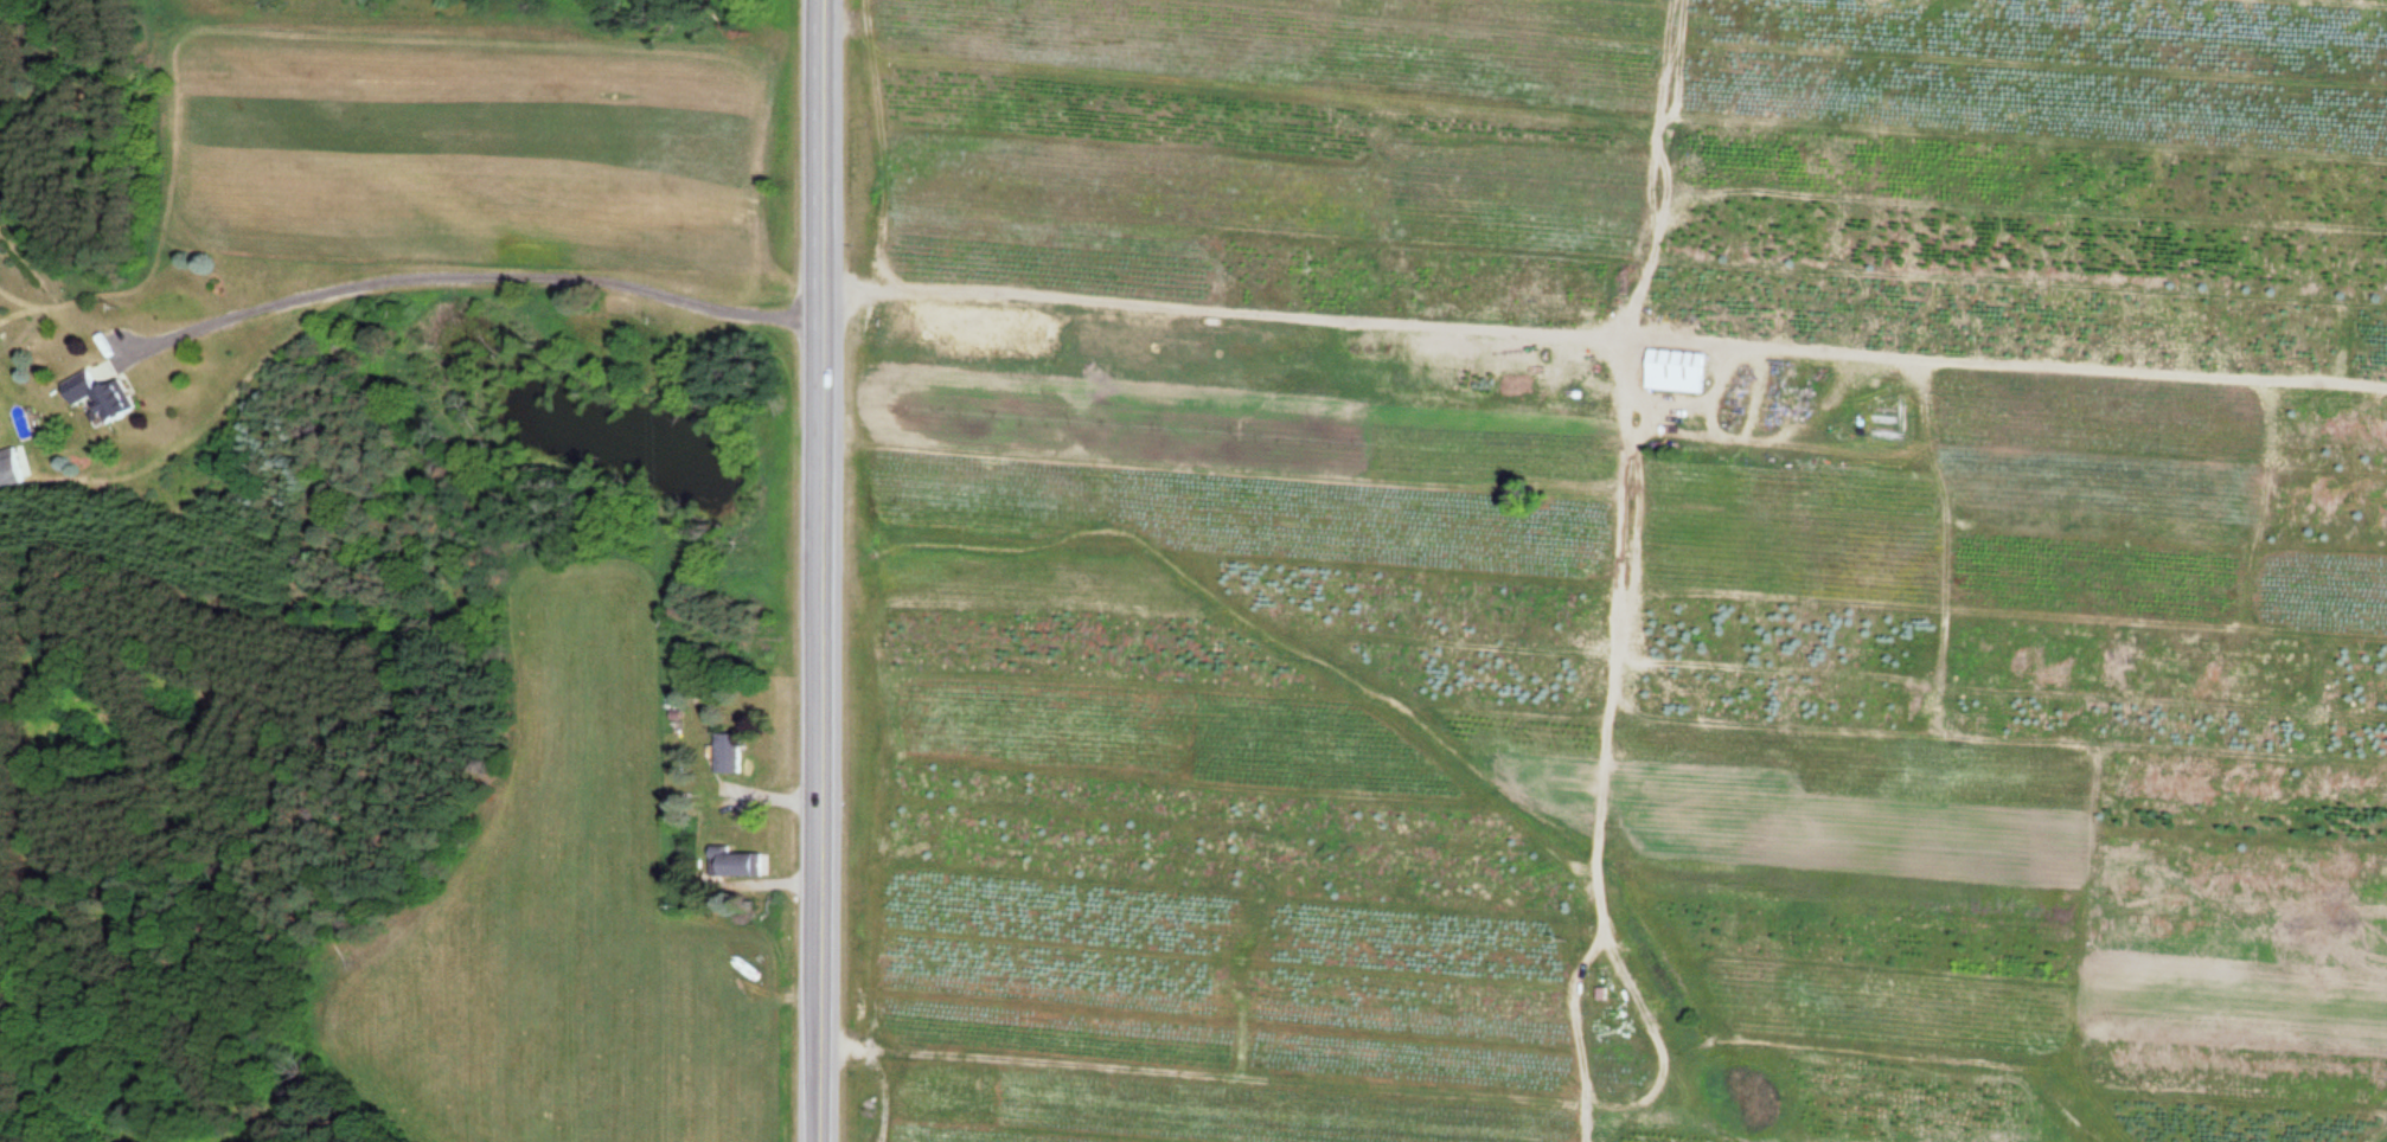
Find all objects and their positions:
building: (806, 192)
building: (1672, 370)
building: (96, 397)
building: (7, 468)
road: (821, 571)
building: (727, 752)
building: (735, 862)

